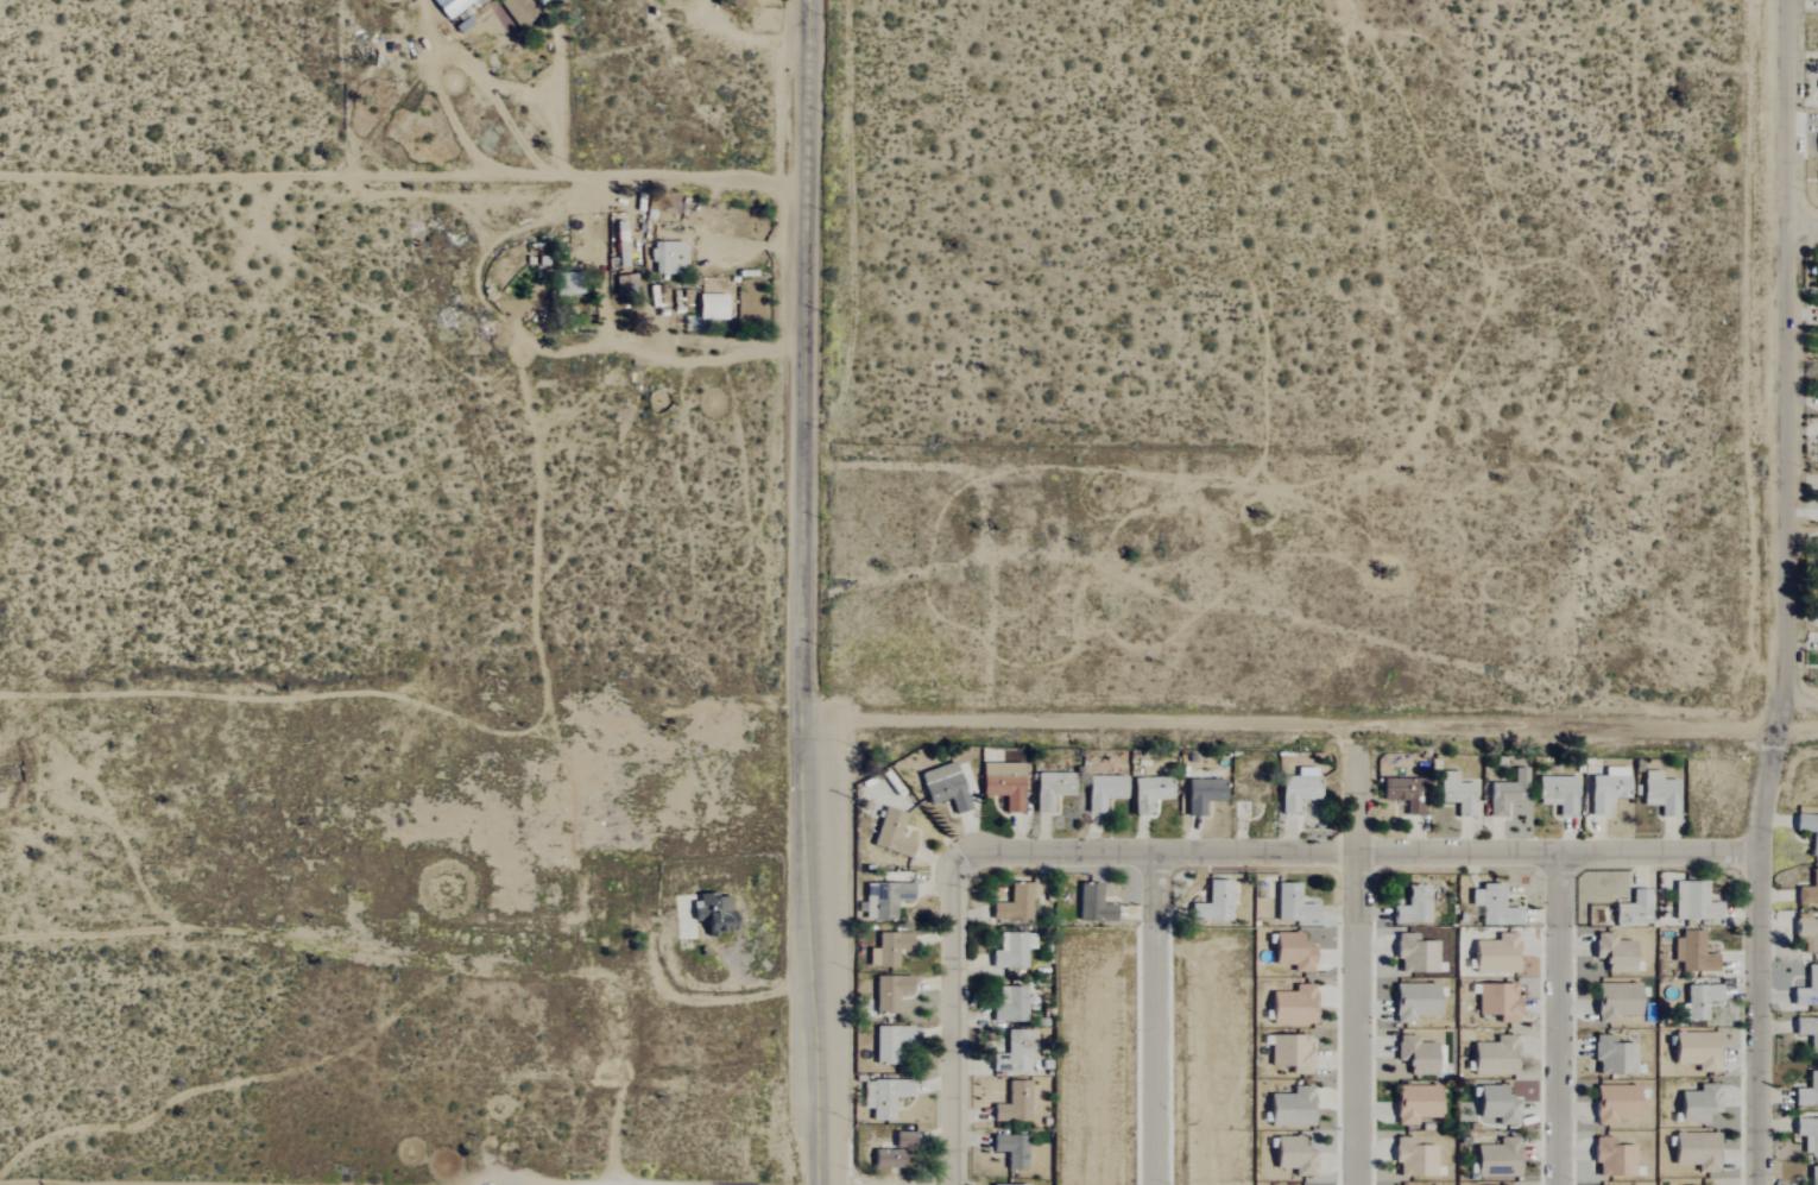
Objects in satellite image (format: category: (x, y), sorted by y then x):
building: (739, 4)
building: (1817, 4)
road: (298, 131)
road: (405, 175)
road: (1804, 228)
building: (563, 284)
building: (709, 307)
road: (629, 346)
road: (808, 359)
building: (1816, 559)
road: (1788, 593)
road: (1312, 725)
building: (1000, 784)
building: (941, 787)
building: (1604, 788)
building: (1048, 789)
building: (1295, 789)
building: (1100, 790)
building: (1147, 793)
building: (1402, 793)
building: (1504, 793)
building: (1658, 793)
building: (1454, 794)
building: (1555, 794)
building: (1200, 795)
building: (1807, 830)
building: (889, 833)
road: (1357, 852)
building: (1808, 890)
building: (883, 900)
building: (1692, 902)
building: (1012, 903)
building: (1211, 903)
building: (1091, 904)
building: (1290, 904)
building: (1410, 906)
building: (1492, 906)
building: (1633, 907)
building: (713, 913)
building: (1806, 934)
building: (886, 948)
building: (1010, 951)
road: (818, 952)
building: (1290, 952)
building: (1611, 952)
building: (1692, 952)
building: (1414, 953)
road: (1358, 954)
building: (1494, 954)
building: (1808, 987)
building: (888, 991)
building: (1413, 1001)
building: (1614, 1001)
building: (1697, 1001)
building: (1495, 1002)
building: (1008, 1004)
building: (1290, 1006)
road: (1559, 1017)
road: (955, 1019)
road: (1157, 1019)
building: (1807, 1032)
building: (889, 1044)
building: (1018, 1050)
building: (1694, 1050)
building: (1290, 1053)
building: (1416, 1055)
building: (1492, 1057)
building: (1611, 1057)
building: (1807, 1091)
building: (883, 1097)
building: (1012, 1103)
building: (1414, 1103)
building: (1612, 1103)
building: (1697, 1104)
building: (1494, 1107)
building: (1289, 1108)
building: (1807, 1135)
building: (1010, 1149)
building: (1694, 1151)
building: (892, 1152)
building: (1292, 1156)
building: (1413, 1159)
building: (1496, 1159)
building: (1611, 1159)
building: (1812, 1175)
building: (1003, 1184)

